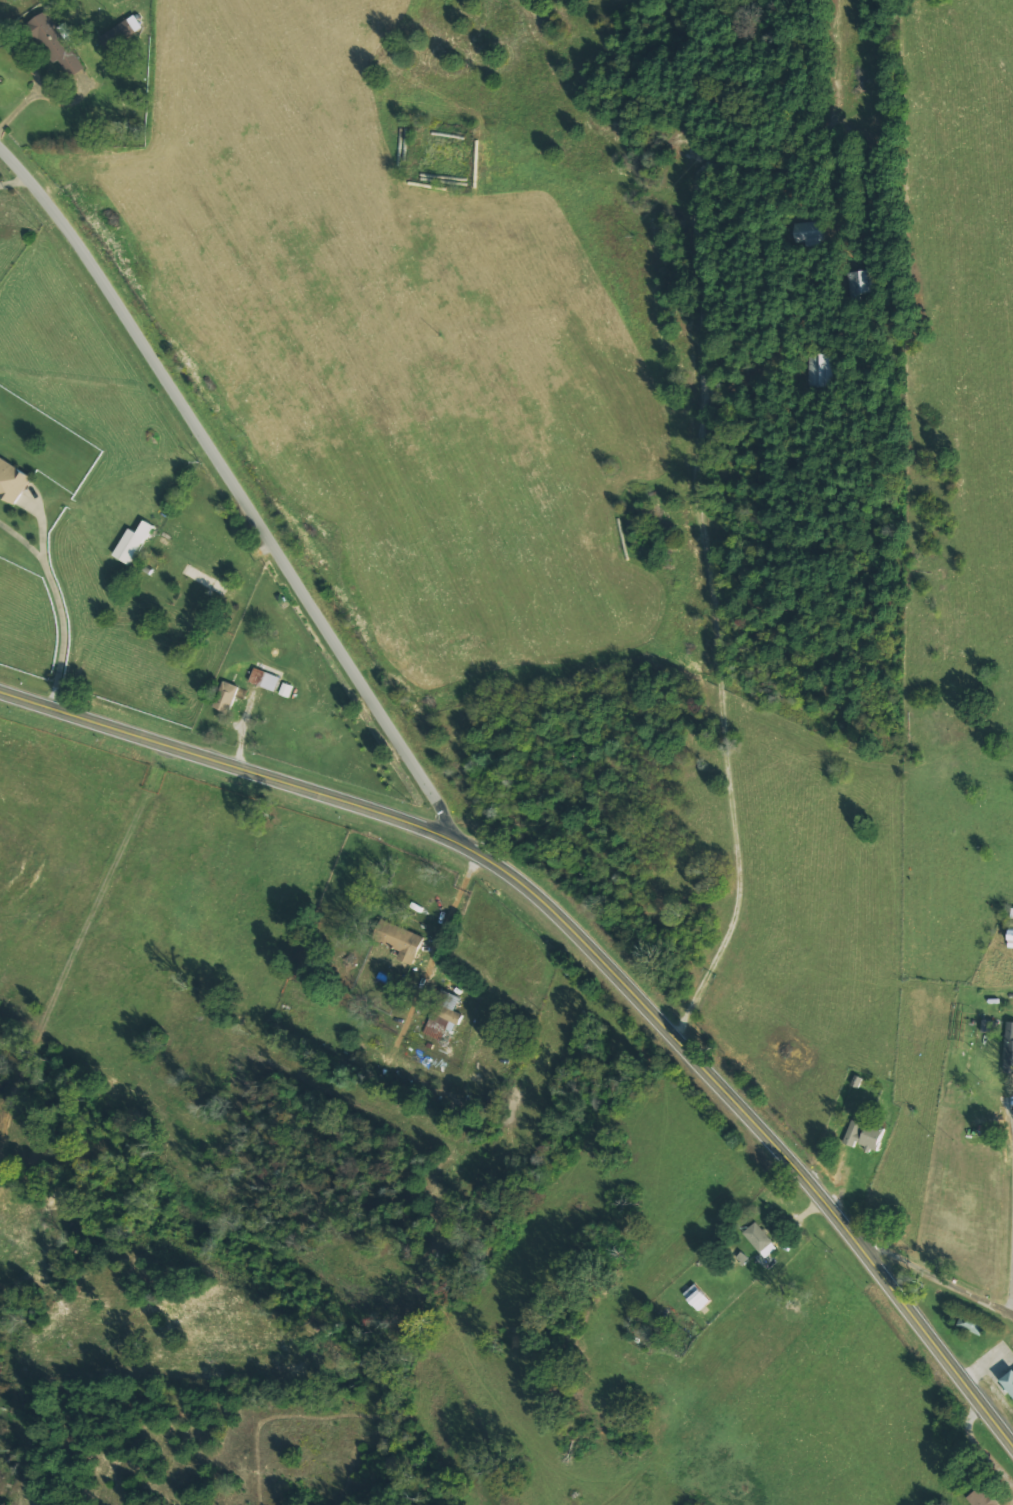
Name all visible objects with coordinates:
building: (64, 44)
building: (807, 233)
building: (861, 282)
building: (816, 369)
building: (11, 482)
road: (238, 490)
building: (132, 543)
building: (264, 679)
building: (224, 696)
building: (1011, 914)
building: (398, 940)
building: (1010, 940)
road: (590, 945)
building: (443, 1016)
building: (987, 1025)
building: (863, 1134)
building: (760, 1240)
road: (929, 1271)
building: (979, 1330)
building: (1011, 1384)
building: (979, 1497)

